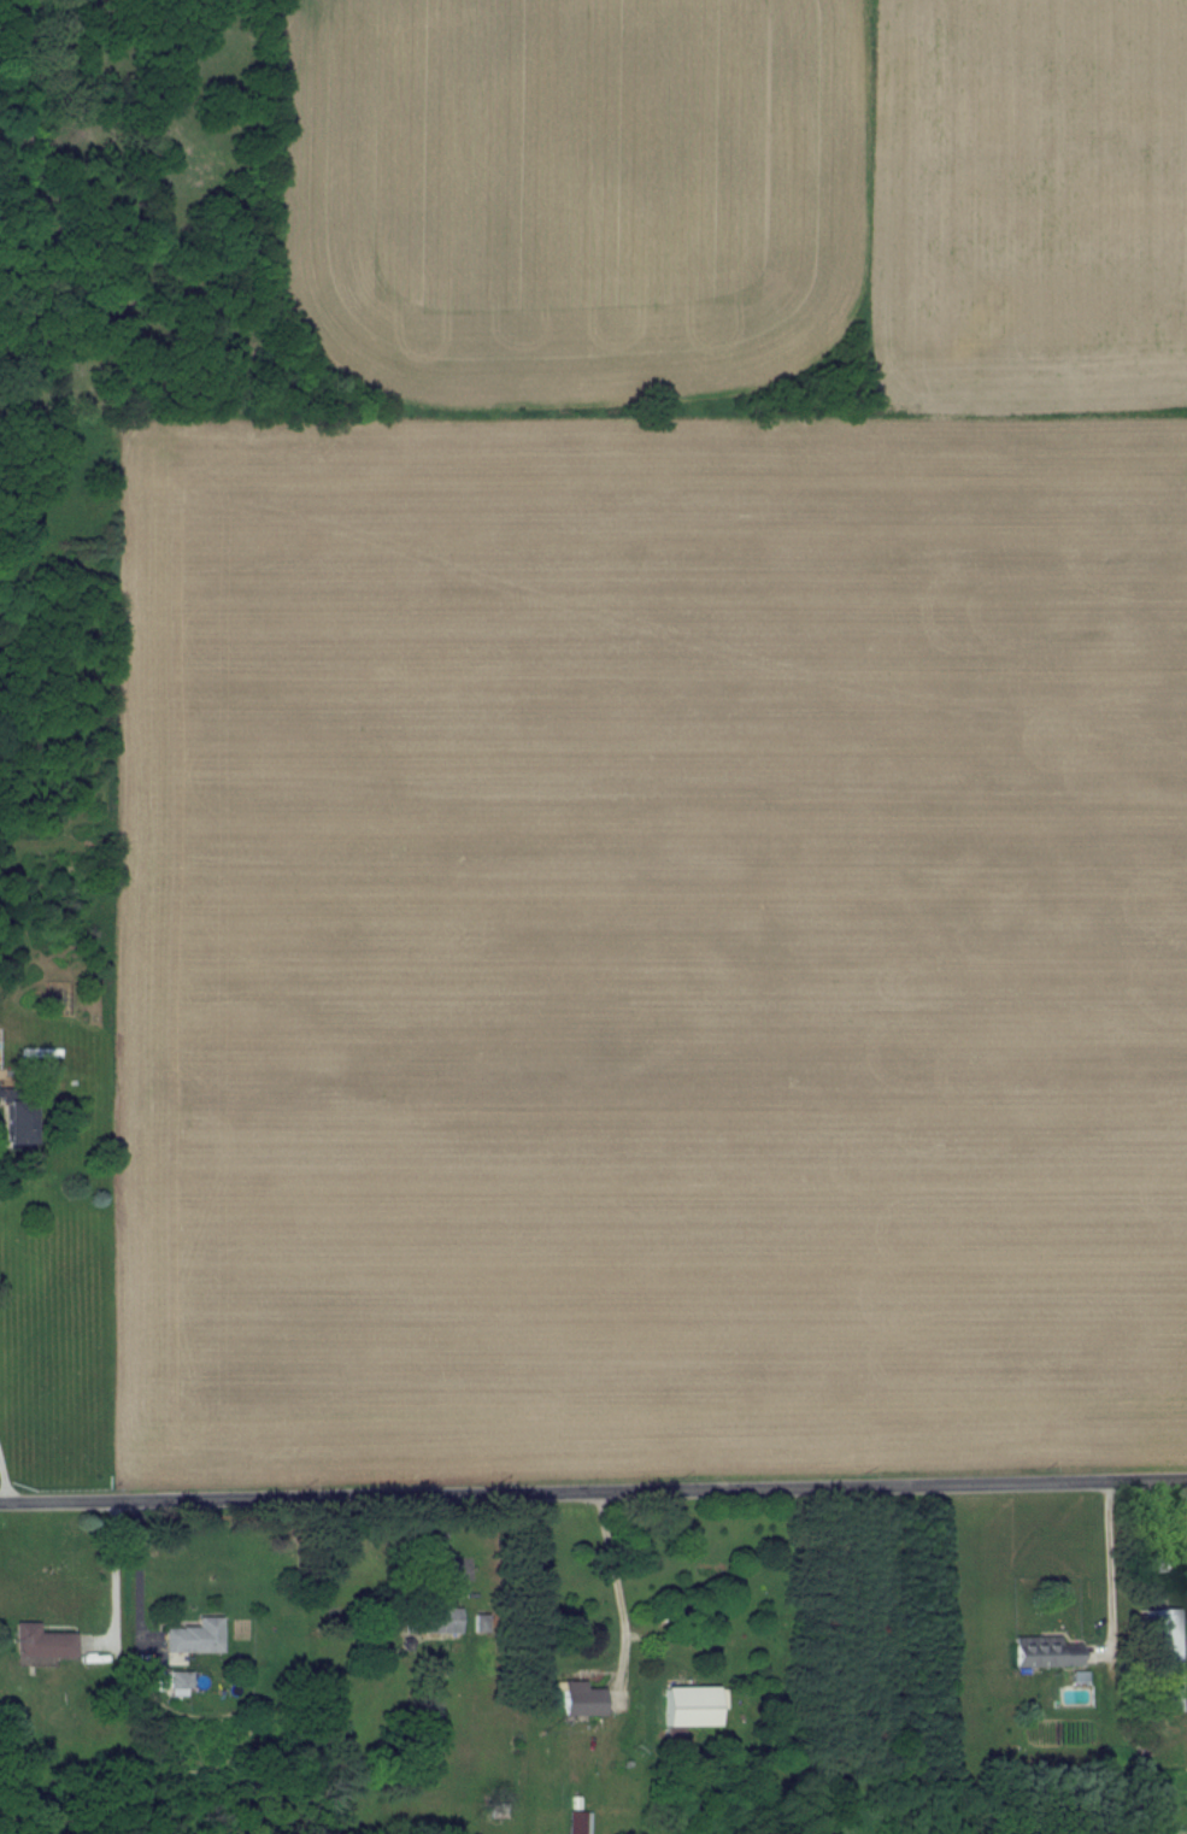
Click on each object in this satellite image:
building: (16, 1128)
road: (6, 1477)
road: (593, 1485)
road: (1117, 1577)
road: (622, 1591)
building: (439, 1618)
building: (480, 1623)
building: (194, 1636)
building: (41, 1642)
building: (1044, 1652)
building: (1164, 1654)
building: (177, 1683)
building: (580, 1699)
road: (87, 1700)
building: (692, 1706)
building: (577, 1822)

